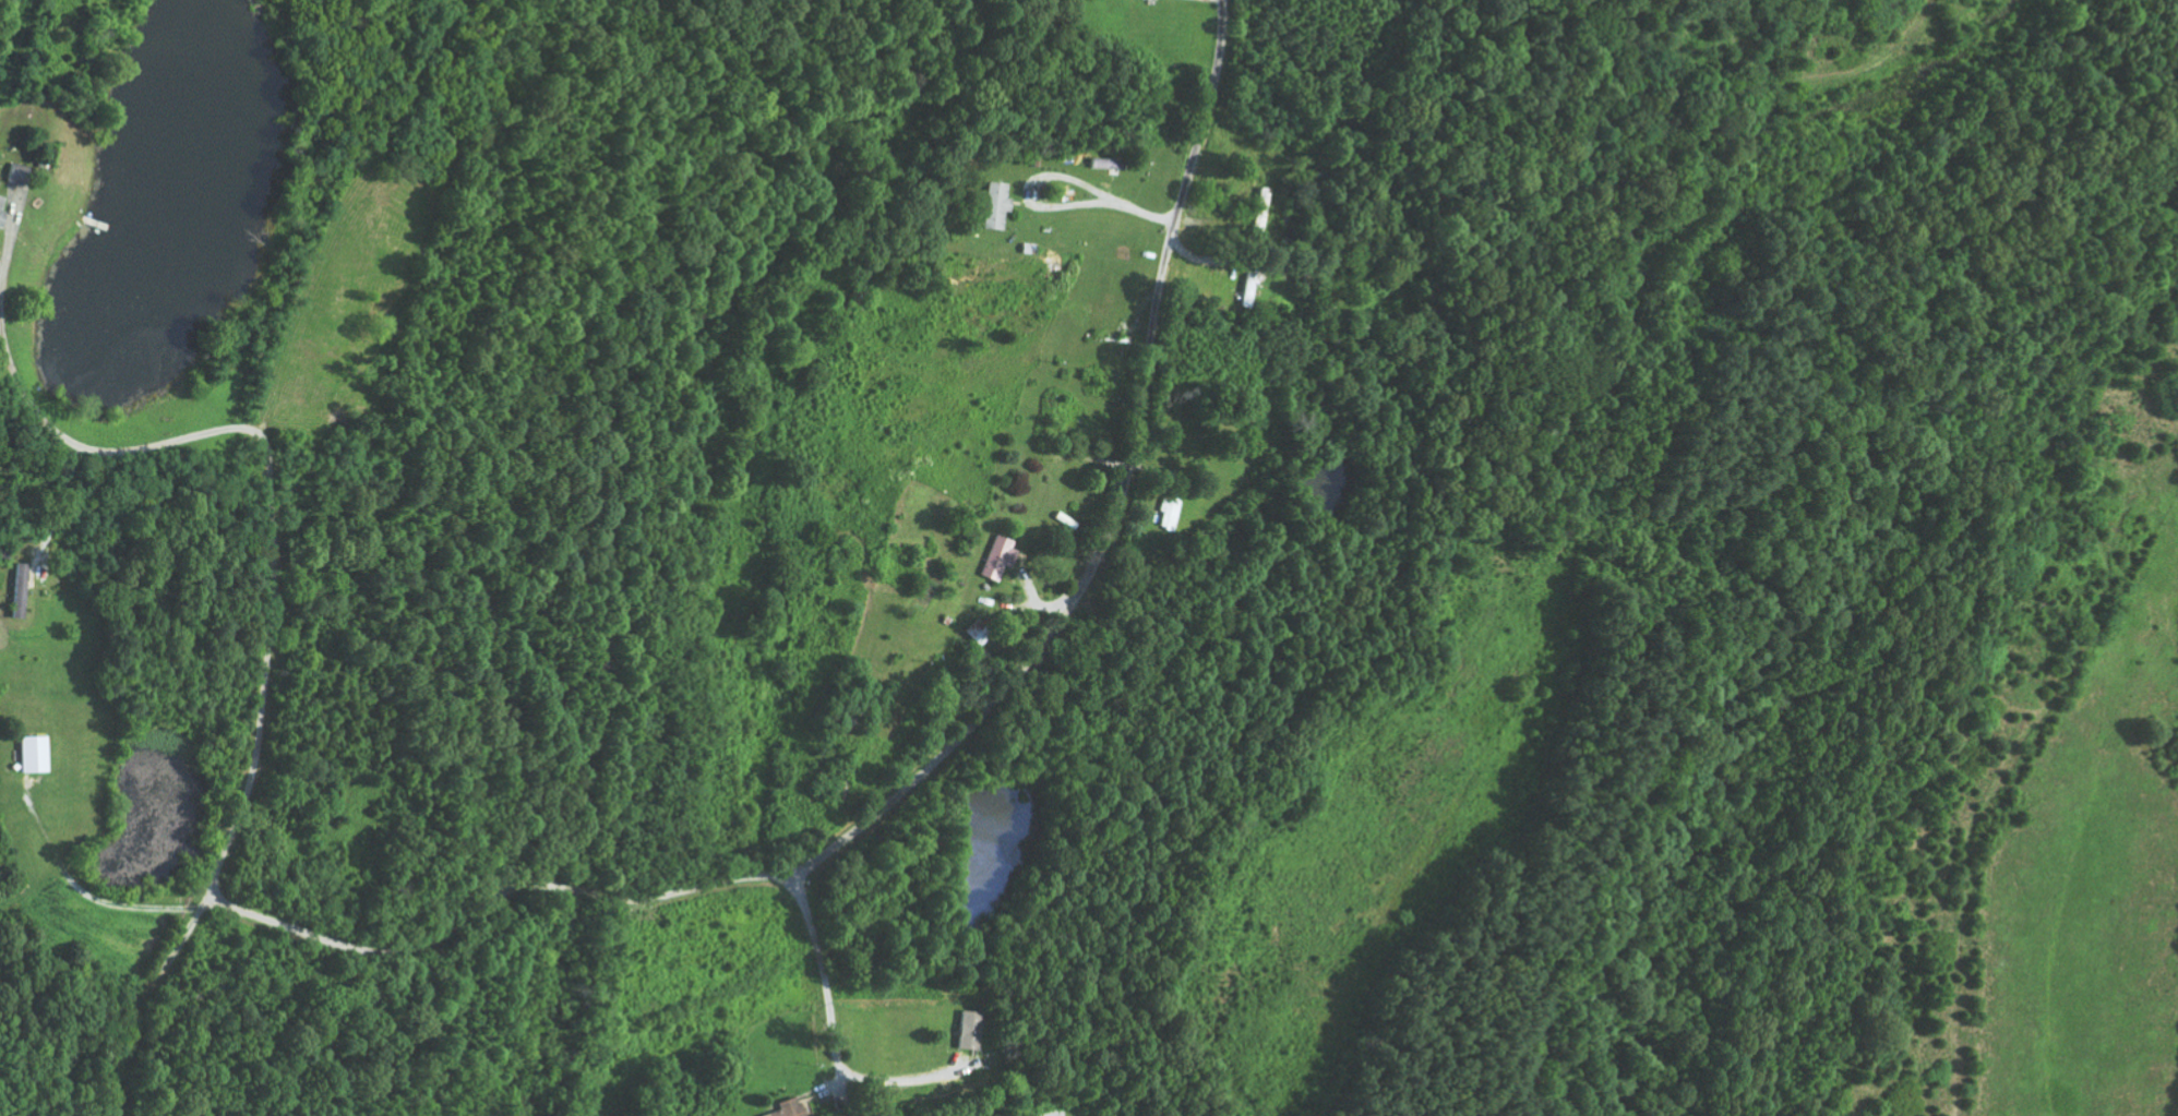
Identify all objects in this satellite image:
building: (19, 175)
building: (0, 202)
building: (995, 206)
building: (1260, 207)
building: (1, 219)
road: (813, 332)
building: (1169, 512)
road: (1115, 515)
building: (997, 556)
building: (20, 589)
building: (978, 632)
building: (33, 754)
building: (969, 1030)

